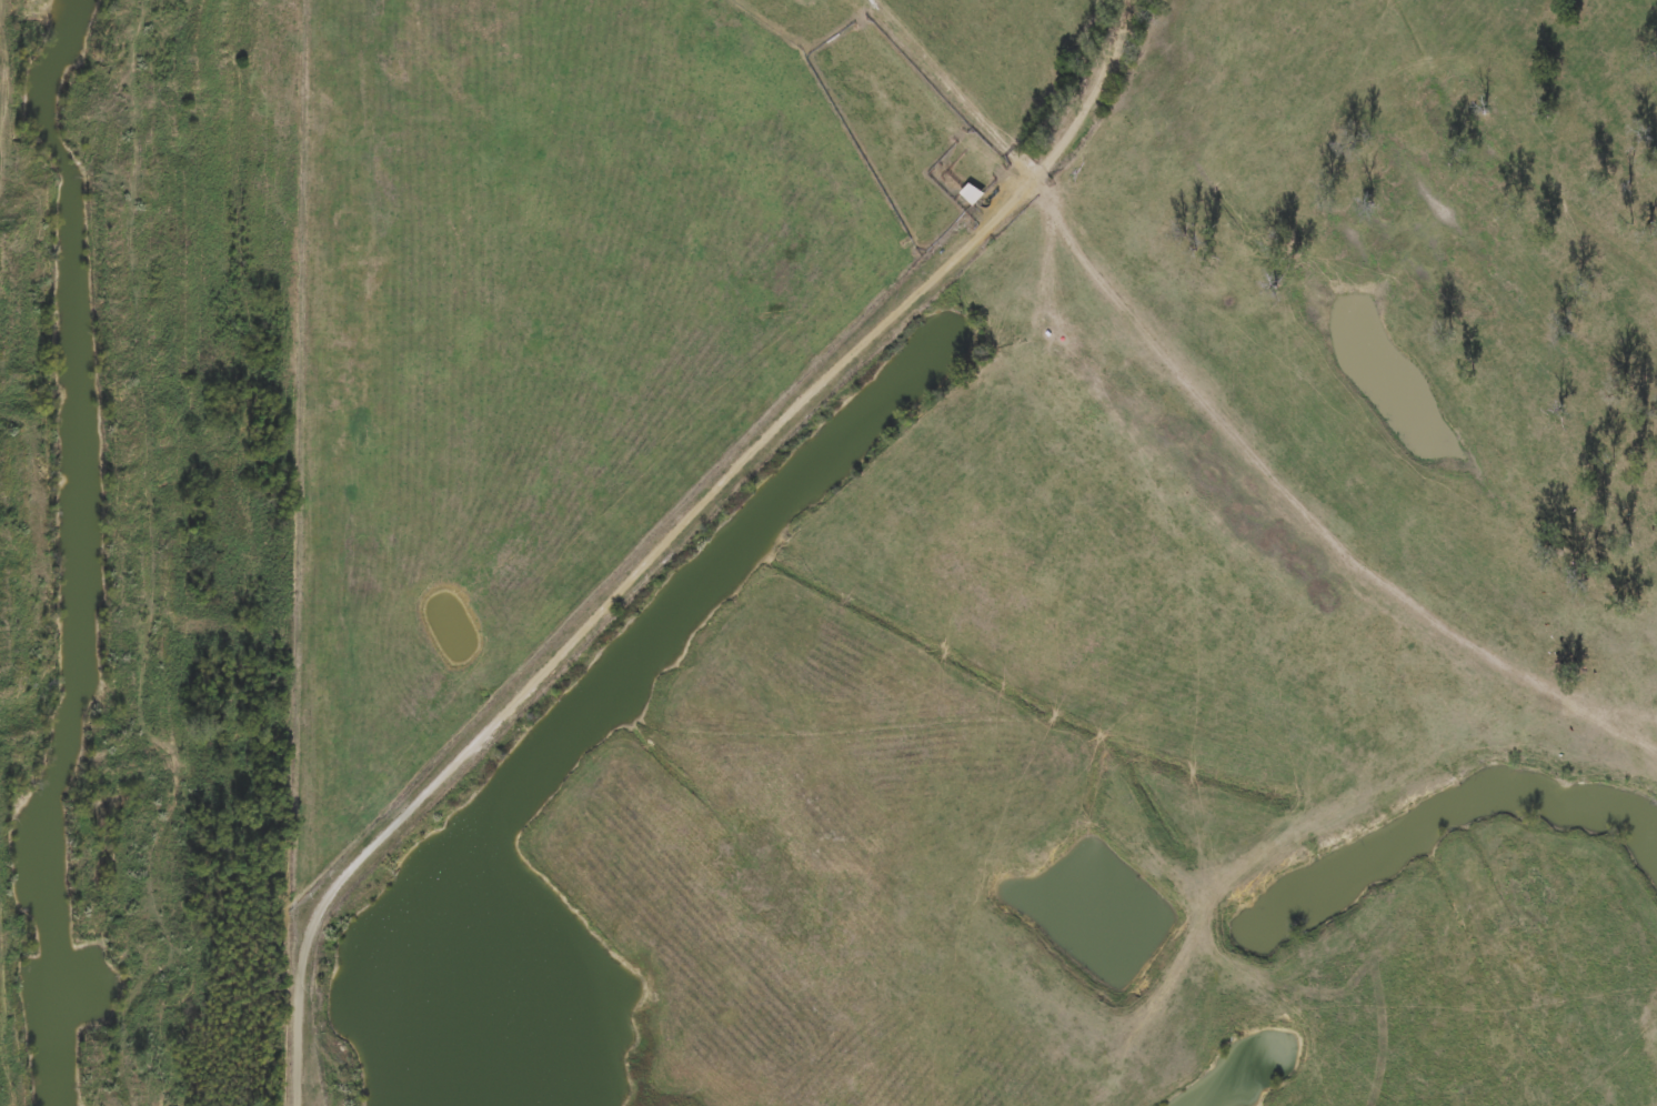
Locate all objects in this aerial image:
road: (86, 28)
road: (670, 529)
road: (82, 541)

